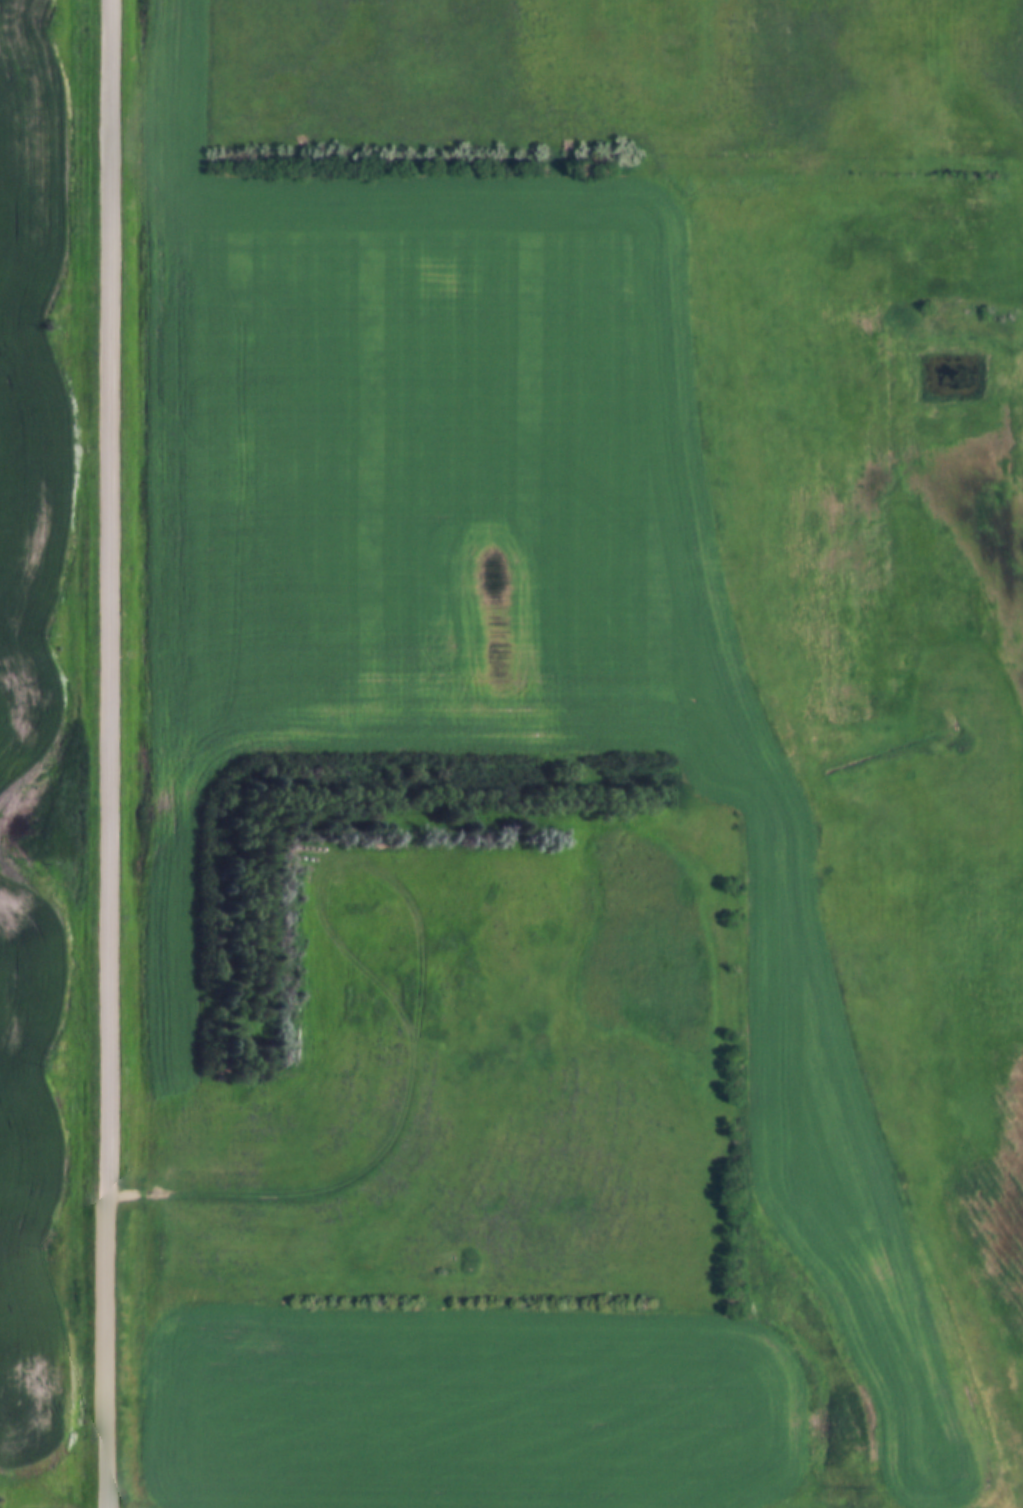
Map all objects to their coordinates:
road: (108, 754)
road: (42, 1482)

